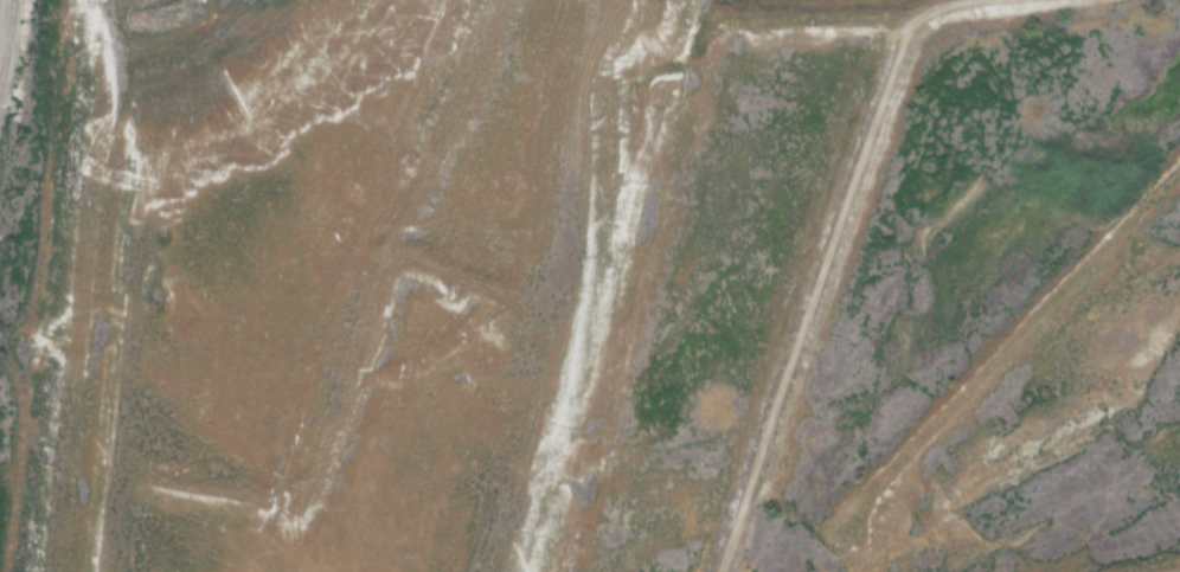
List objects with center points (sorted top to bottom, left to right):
railway: (6, 39)

